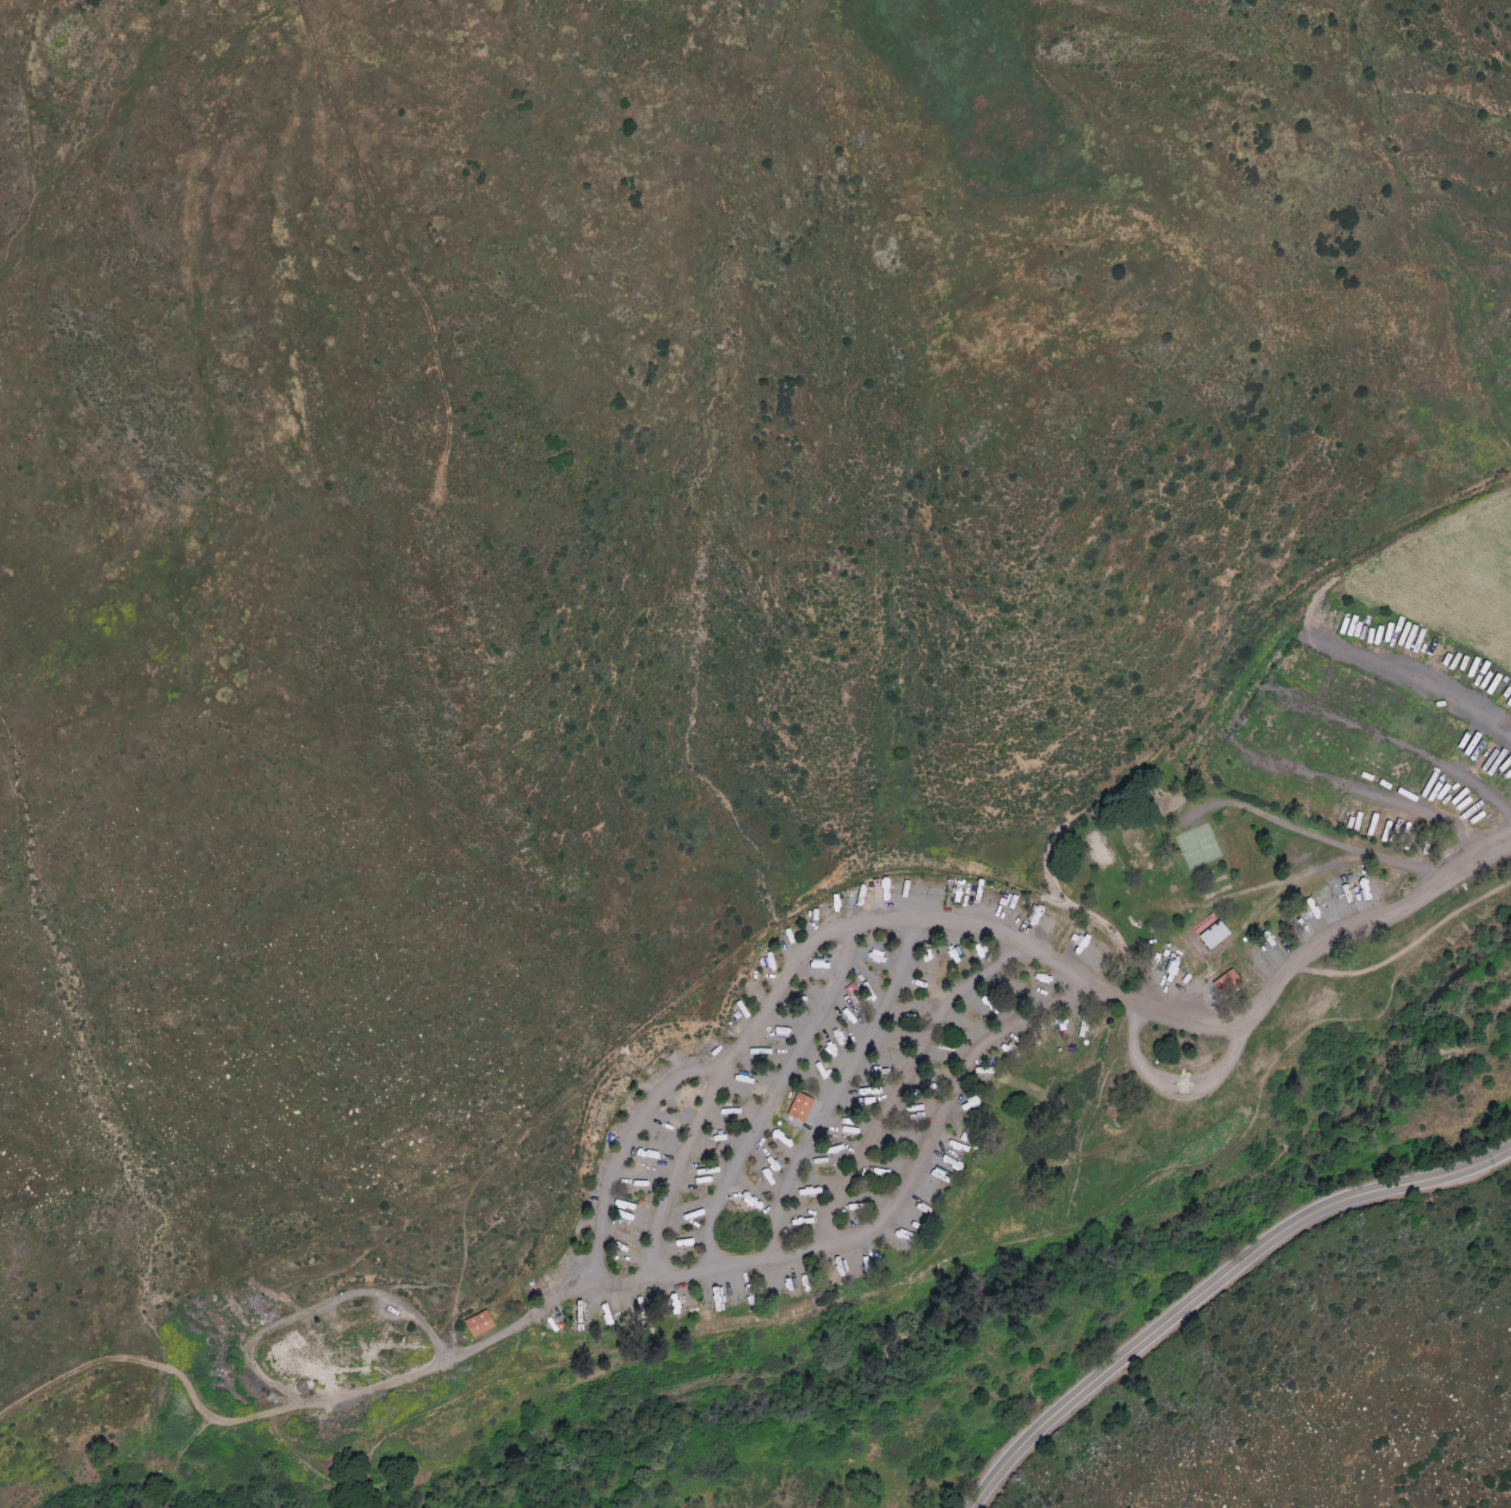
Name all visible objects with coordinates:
road: (1251, 711)
road: (1393, 743)
road: (917, 925)
building: (1212, 935)
road: (903, 1085)
road: (836, 1090)
road: (772, 1098)
building: (799, 1108)
road: (676, 1176)
road: (884, 1225)
road: (1213, 1286)
building: (478, 1324)
road: (258, 1344)
road: (158, 1362)

